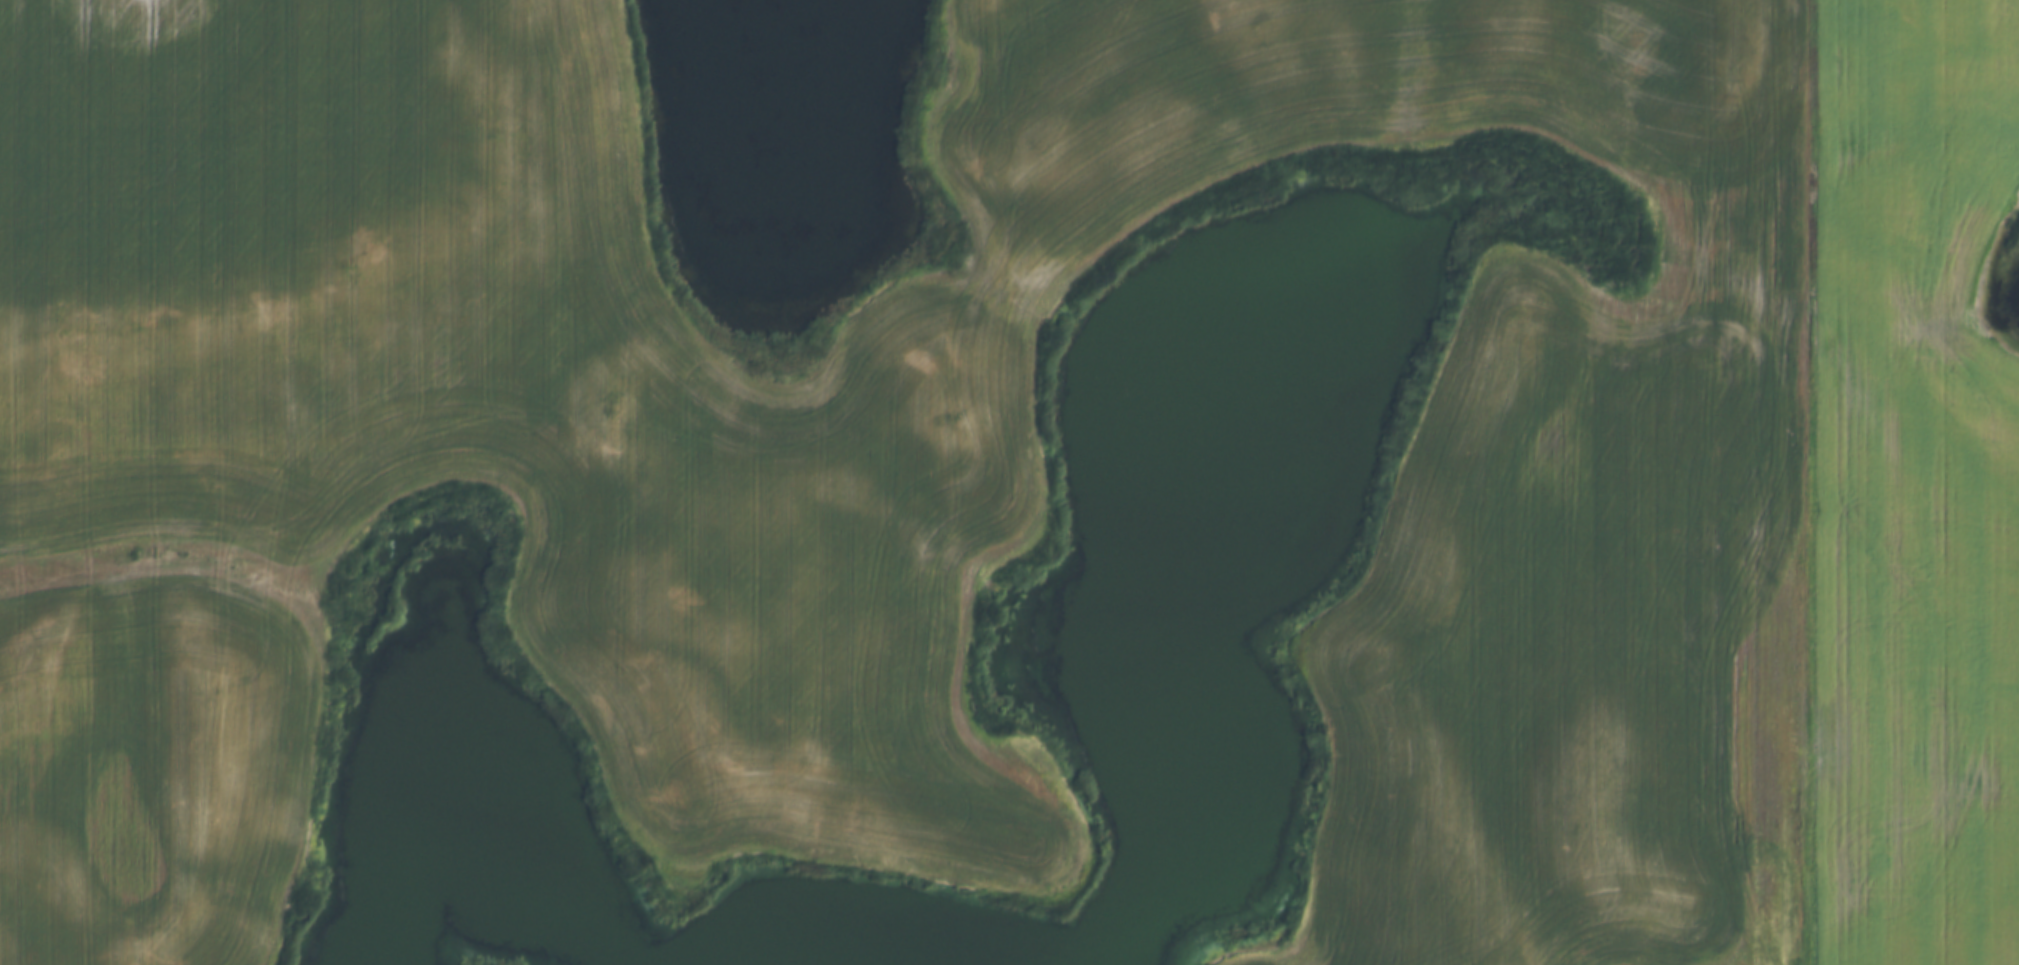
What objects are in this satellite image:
road: (1825, 482)

